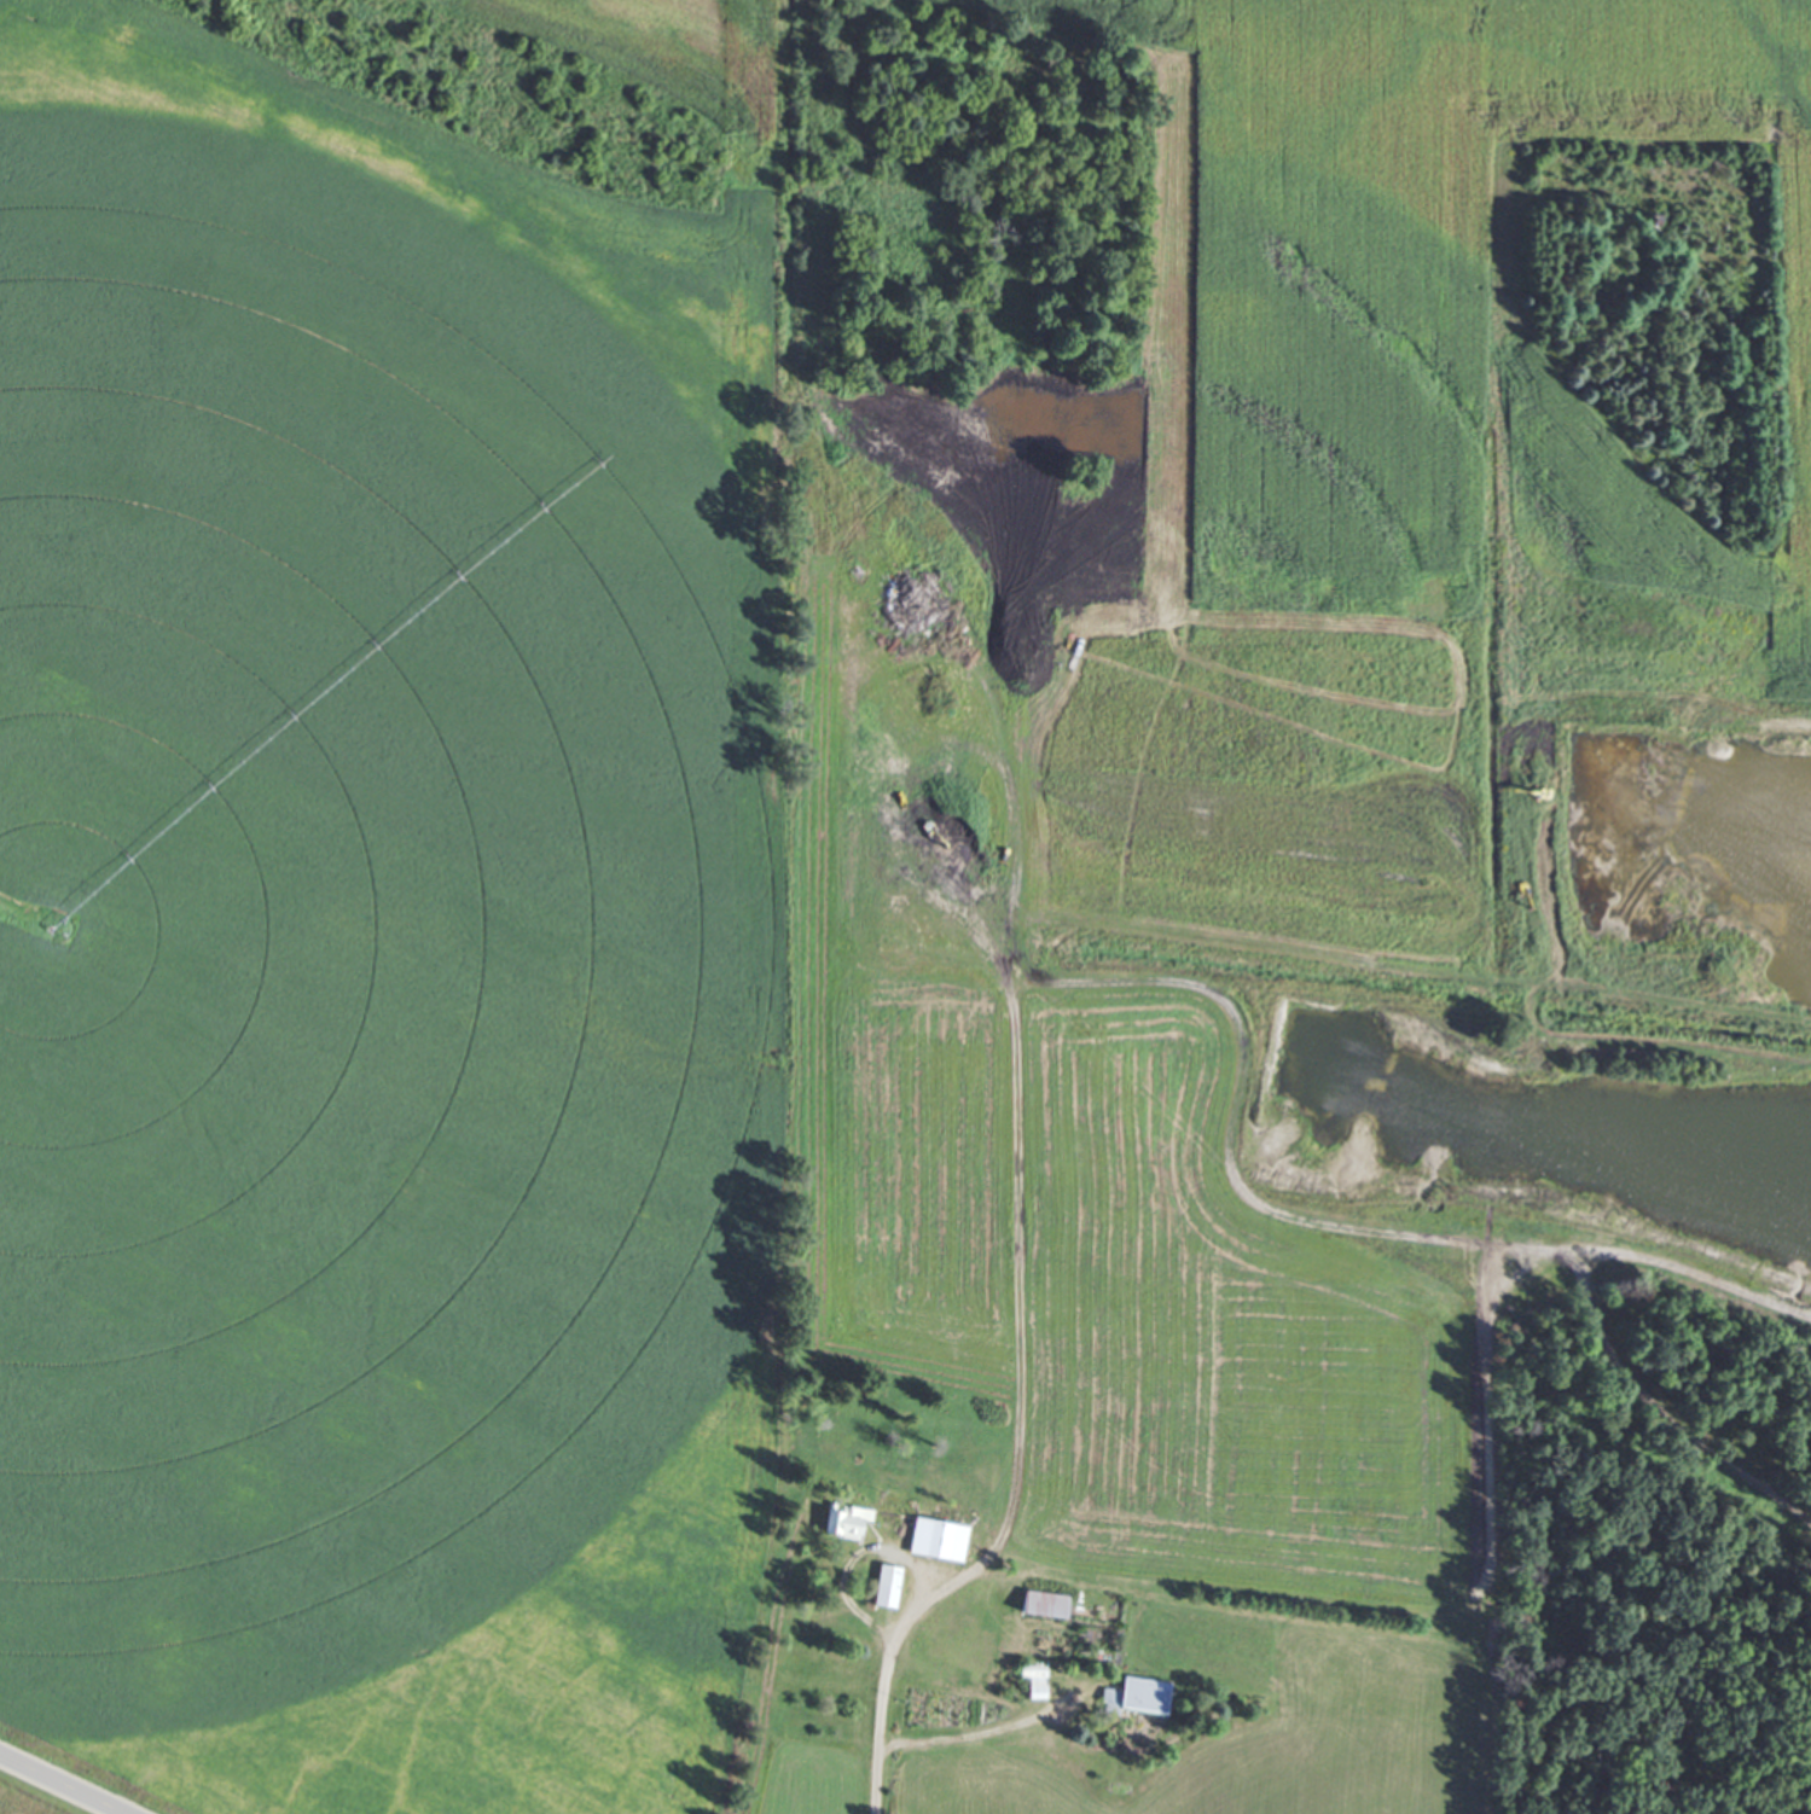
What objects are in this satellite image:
building: (887, 1513)
building: (848, 1523)
building: (939, 1540)
building: (889, 1577)
building: (1044, 1604)
building: (963, 1644)
building: (1034, 1681)
road: (888, 1684)
building: (1137, 1696)
road: (986, 1726)
road: (60, 1785)

